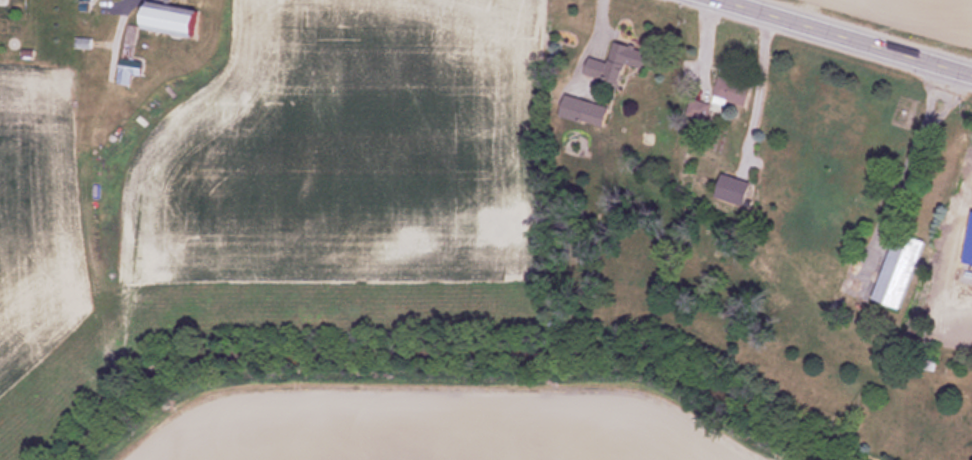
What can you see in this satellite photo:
building: (180, 20)
road: (840, 38)
building: (620, 62)
building: (133, 70)
building: (734, 87)
building: (587, 110)
building: (736, 187)
building: (902, 269)

